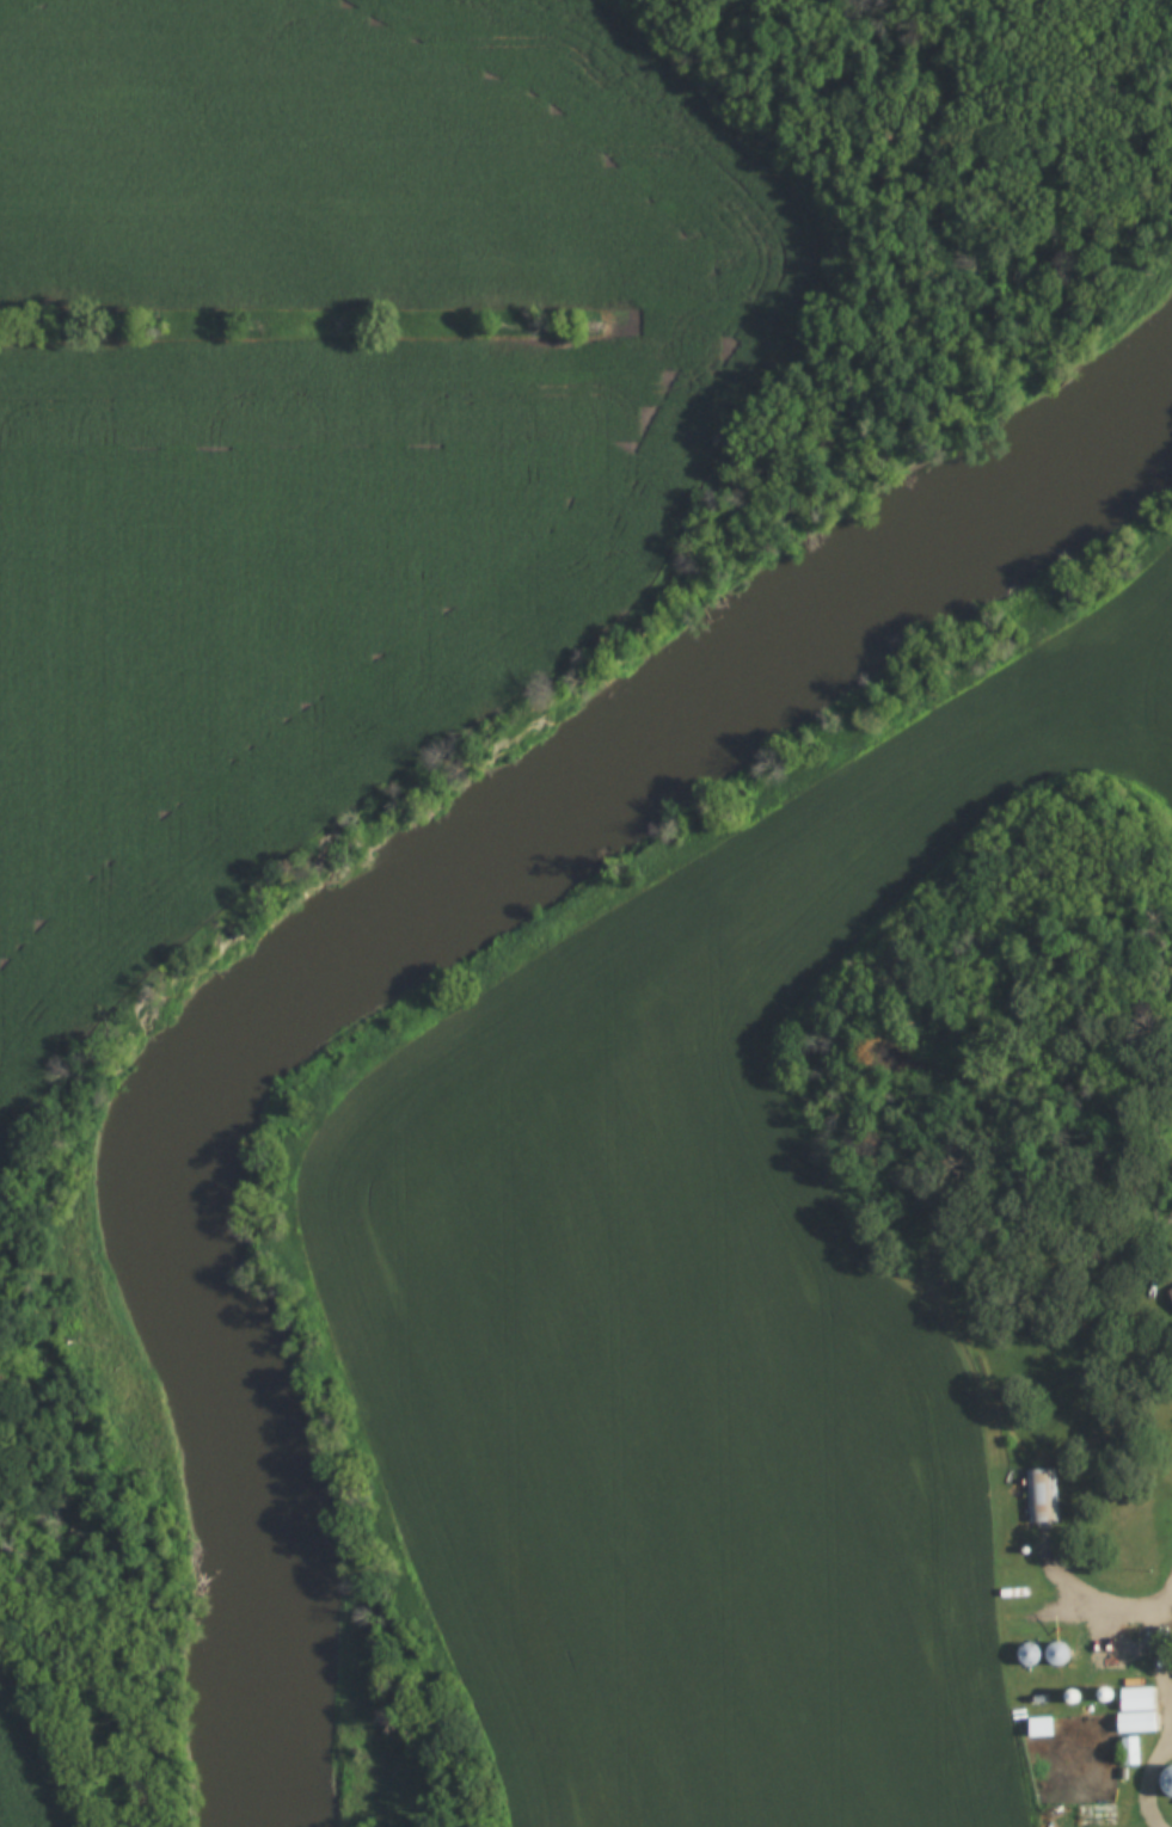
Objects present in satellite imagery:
river: (358, 935)
building: (1170, 1288)
building: (1038, 1495)
road: (1171, 1623)
building: (1051, 1655)
building: (1131, 1710)
building: (1036, 1727)
building: (1125, 1751)

